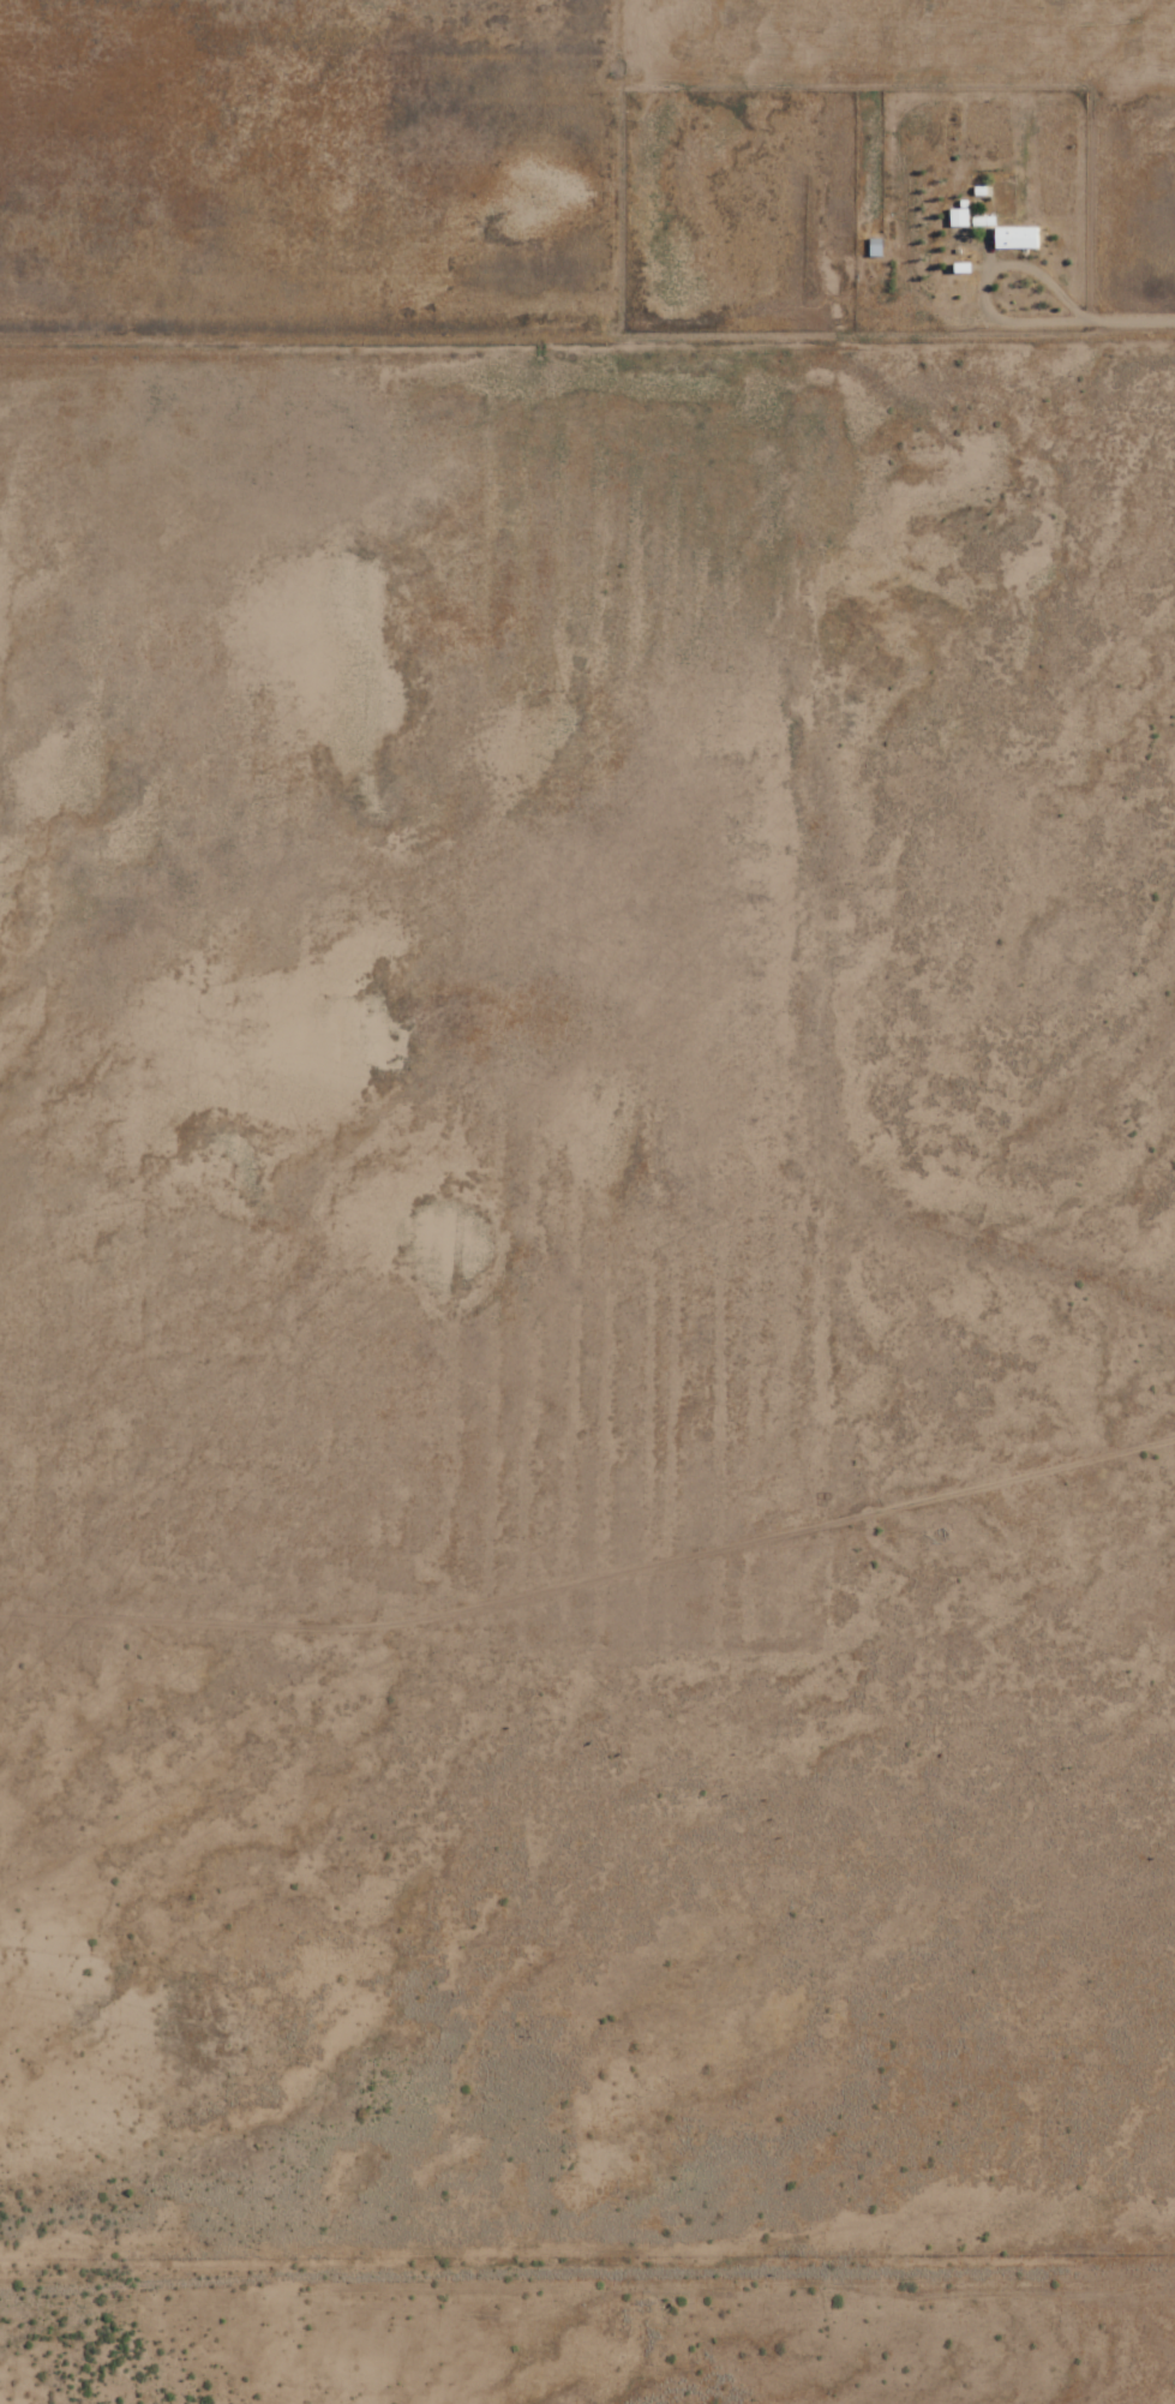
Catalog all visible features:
building: (959, 217)
building: (984, 221)
building: (1017, 238)

